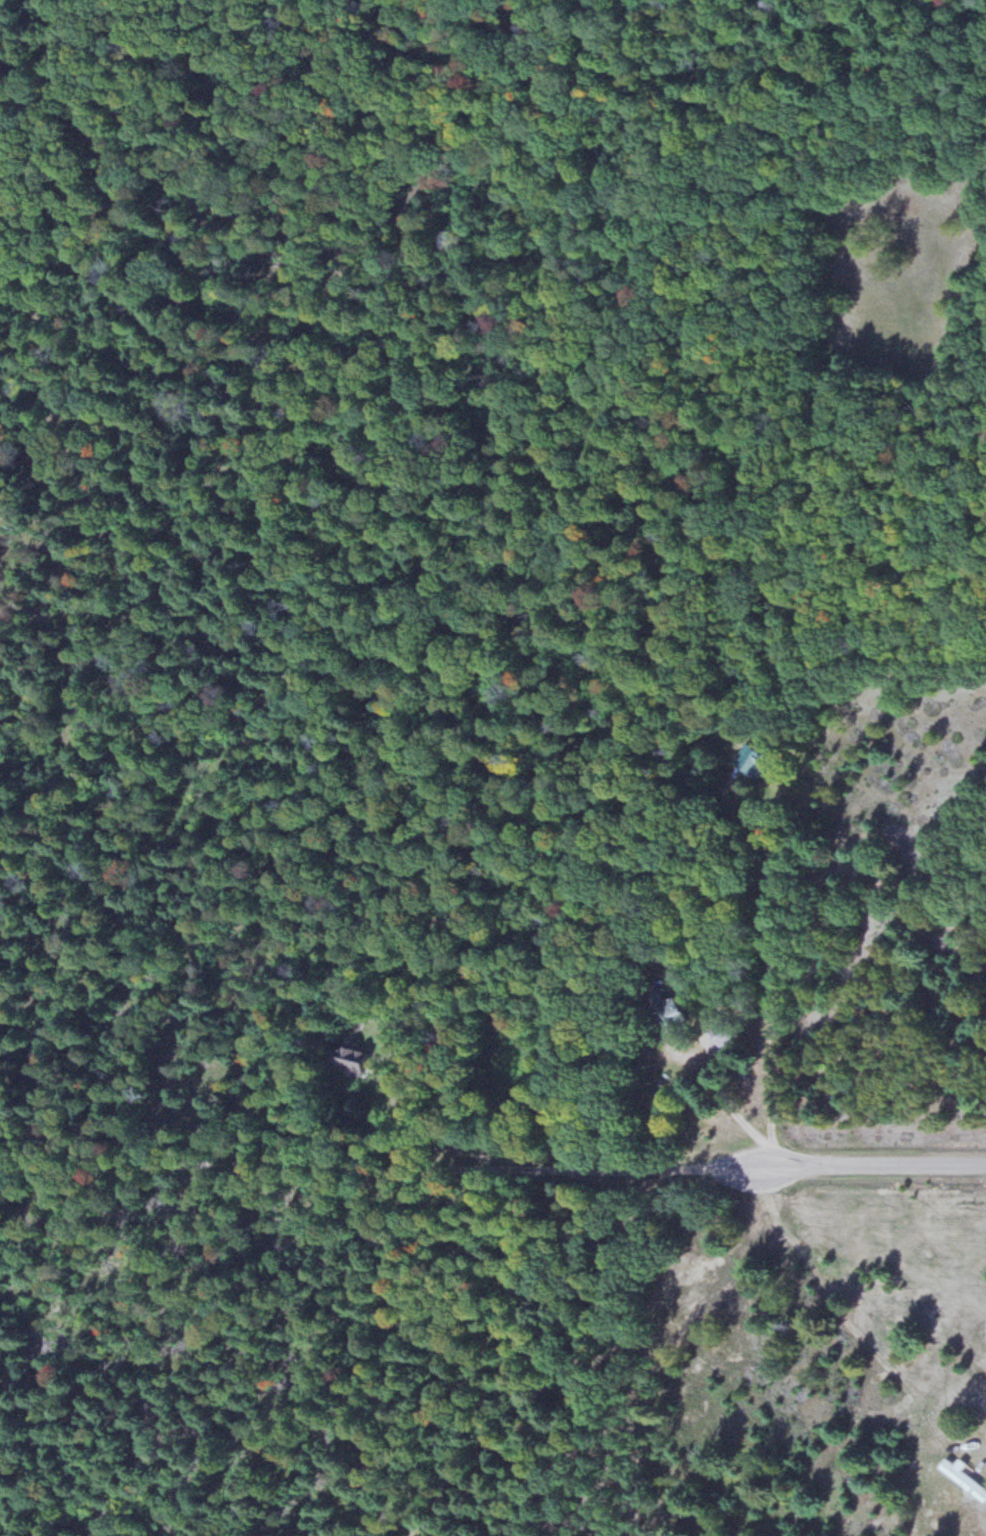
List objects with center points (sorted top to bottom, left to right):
road: (5, 1)
building: (757, 761)
building: (673, 1013)
building: (726, 1035)
road: (867, 1169)
road: (374, 1170)
building: (965, 1480)

